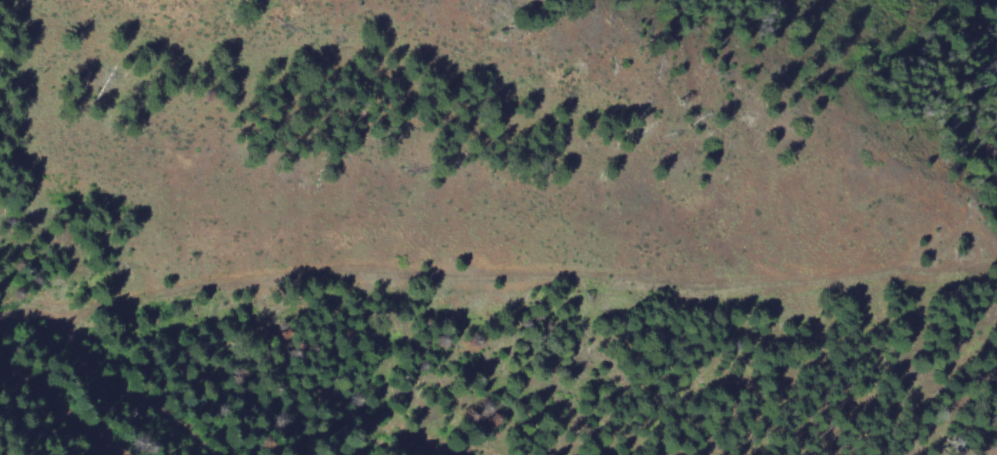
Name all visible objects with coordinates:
road: (181, 444)

